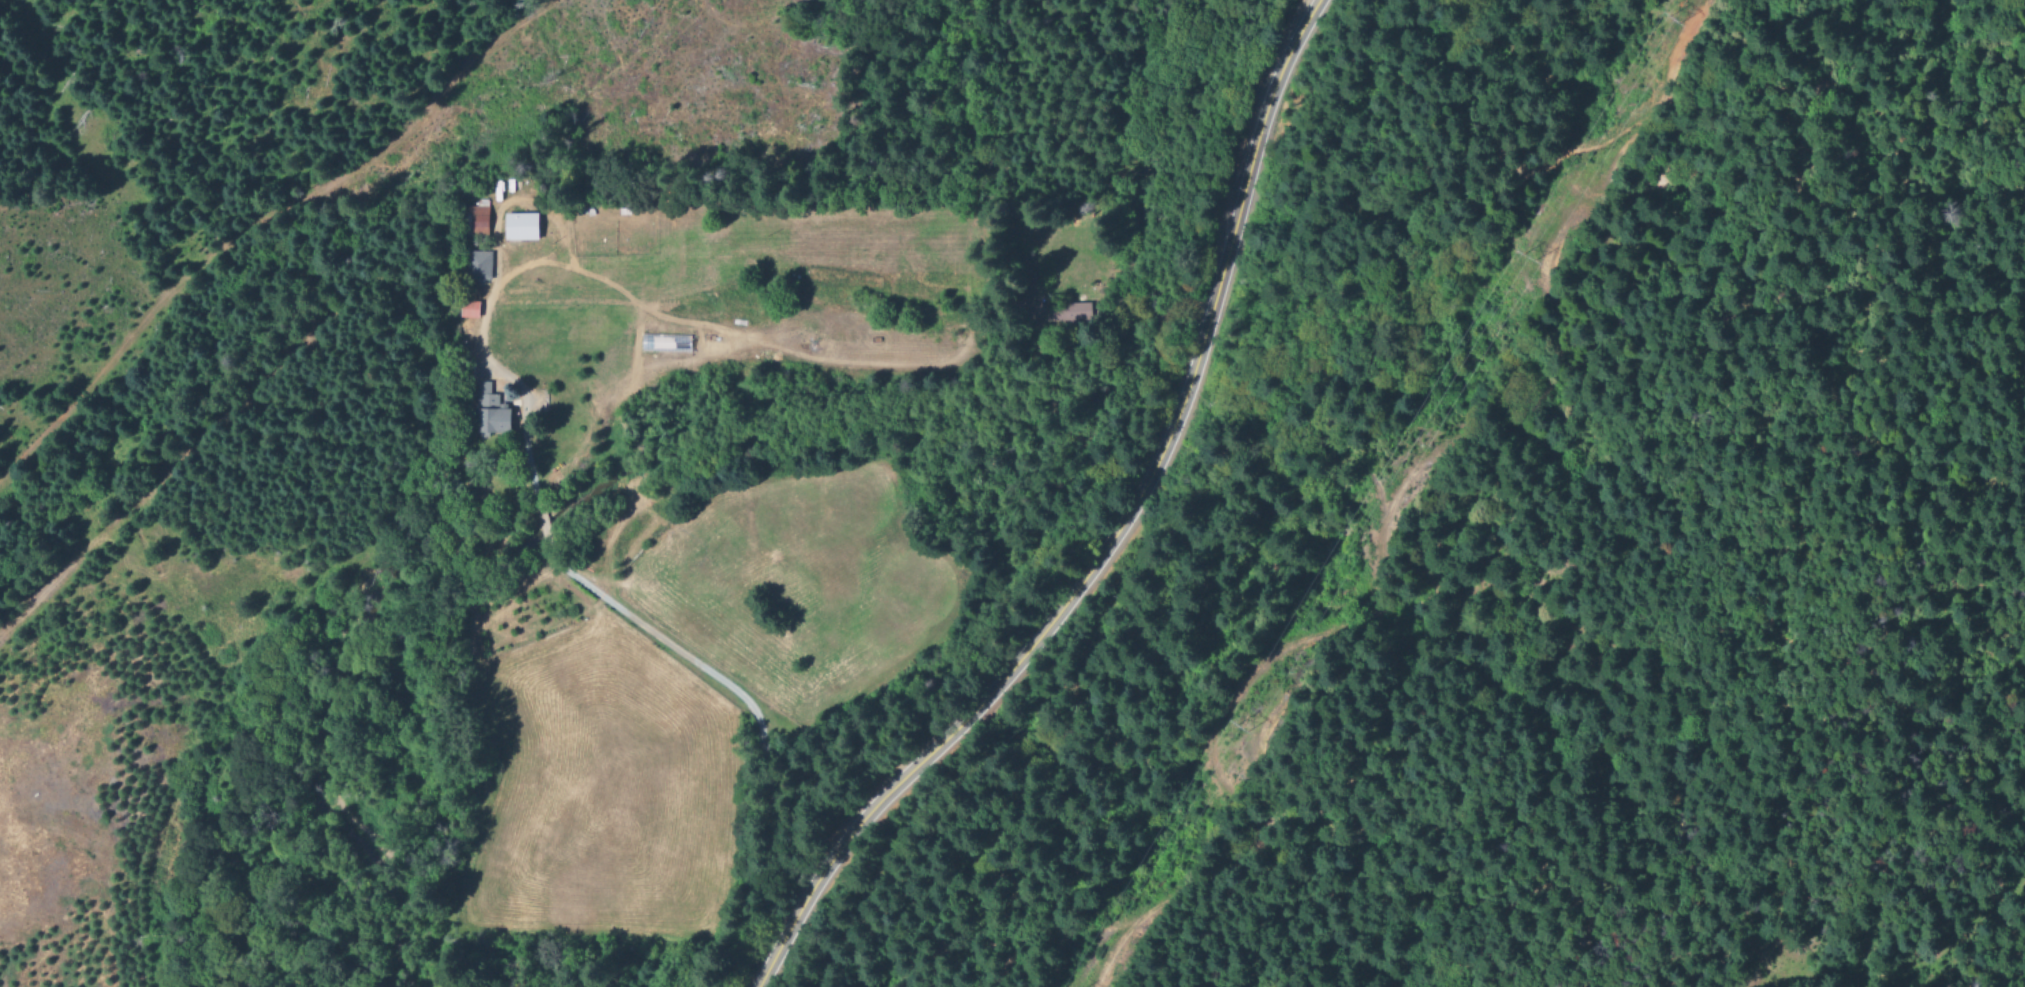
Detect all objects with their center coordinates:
power tower: (1672, 20)
building: (478, 217)
building: (522, 227)
power tower: (1525, 257)
building: (478, 266)
building: (470, 311)
building: (665, 345)
building: (490, 414)
road: (1115, 535)
power tower: (1237, 729)

